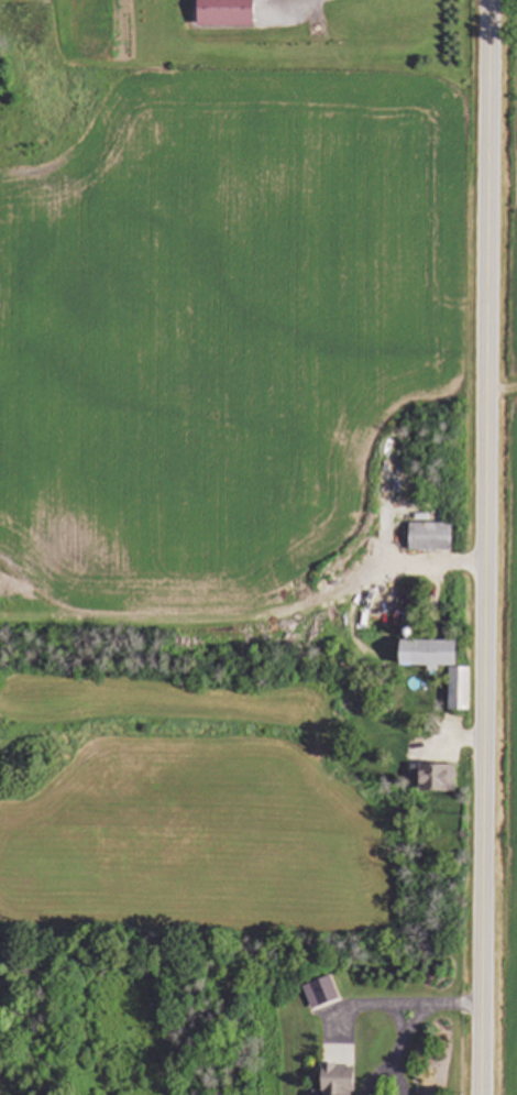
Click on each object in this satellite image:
road: (283, 7)
building: (226, 13)
building: (430, 538)
road: (486, 547)
crop: (505, 583)
building: (459, 689)
building: (430, 778)
building: (321, 994)
road: (399, 1004)
building: (337, 1081)

